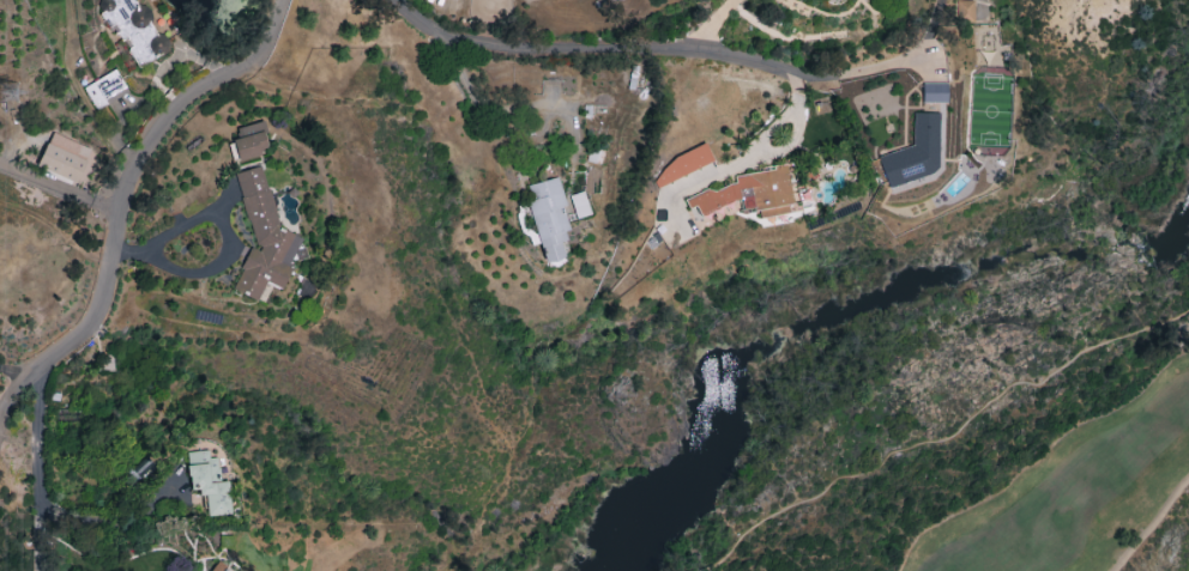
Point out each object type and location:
building: (964, 10)
road: (713, 24)
building: (133, 29)
road: (609, 48)
road: (883, 65)
building: (104, 89)
power tower: (11, 91)
building: (933, 92)
road: (500, 110)
building: (249, 140)
building: (913, 152)
building: (62, 157)
road: (61, 187)
building: (753, 192)
road: (128, 200)
building: (728, 208)
building: (548, 217)
building: (262, 237)
road: (229, 255)
river: (851, 309)
road: (18, 371)
road: (949, 435)
road: (38, 473)
building: (207, 482)
park: (1070, 493)
road: (110, 524)
building: (225, 569)
road: (710, 569)

